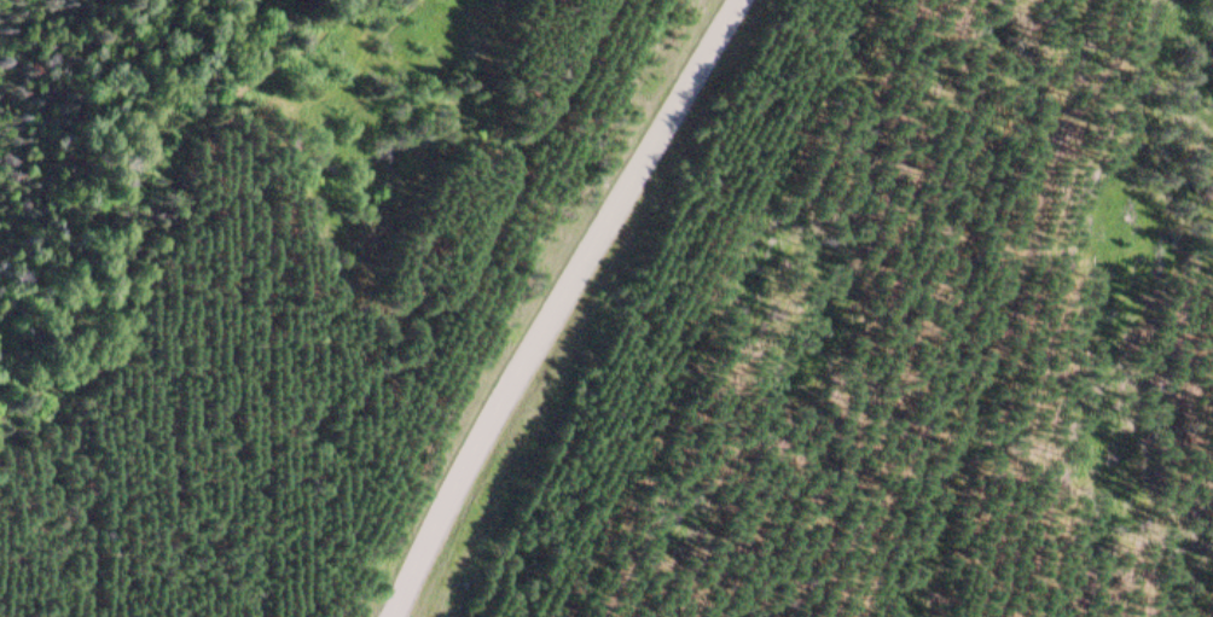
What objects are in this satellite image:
road: (161, 204)
road: (561, 304)

